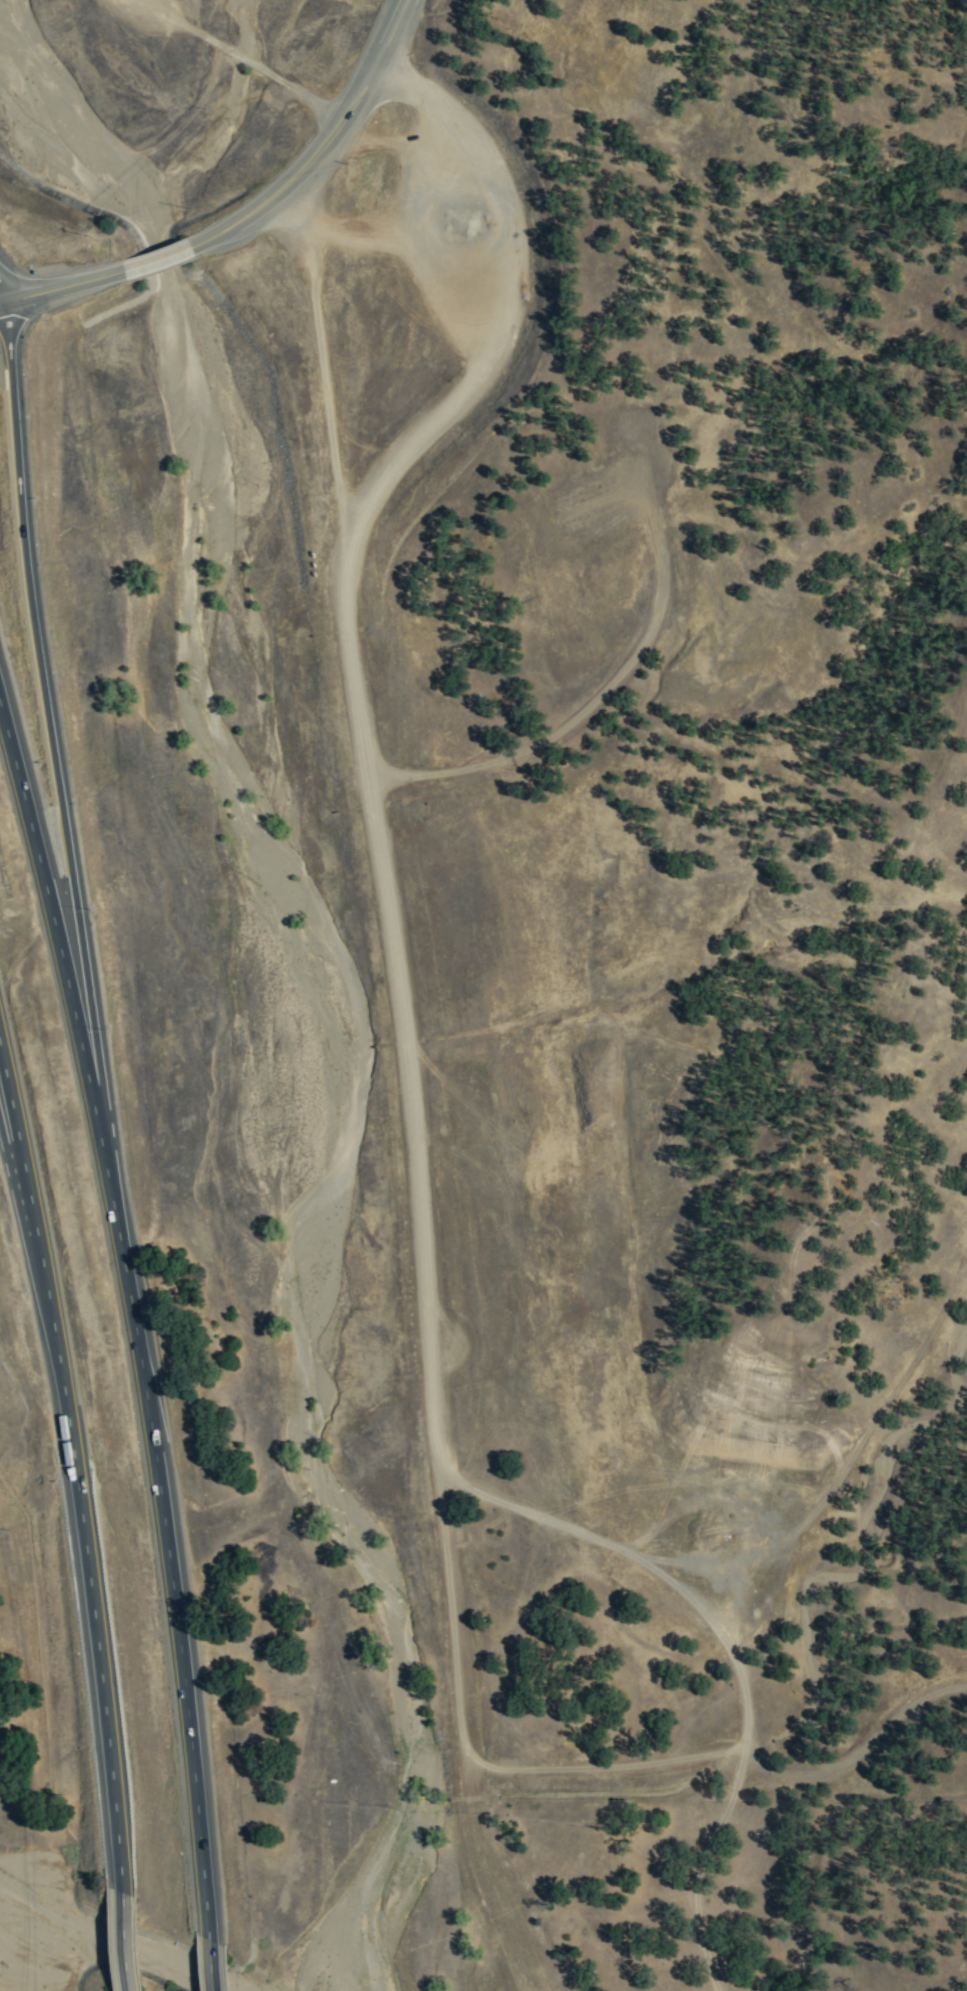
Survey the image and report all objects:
road: (321, 142)
road: (157, 262)
road: (59, 290)
road: (2, 299)
road: (47, 692)
road: (375, 844)
road: (16, 1160)
road: (134, 1308)
road: (76, 1452)
road: (125, 1938)
river: (118, 1947)
road: (211, 1962)

